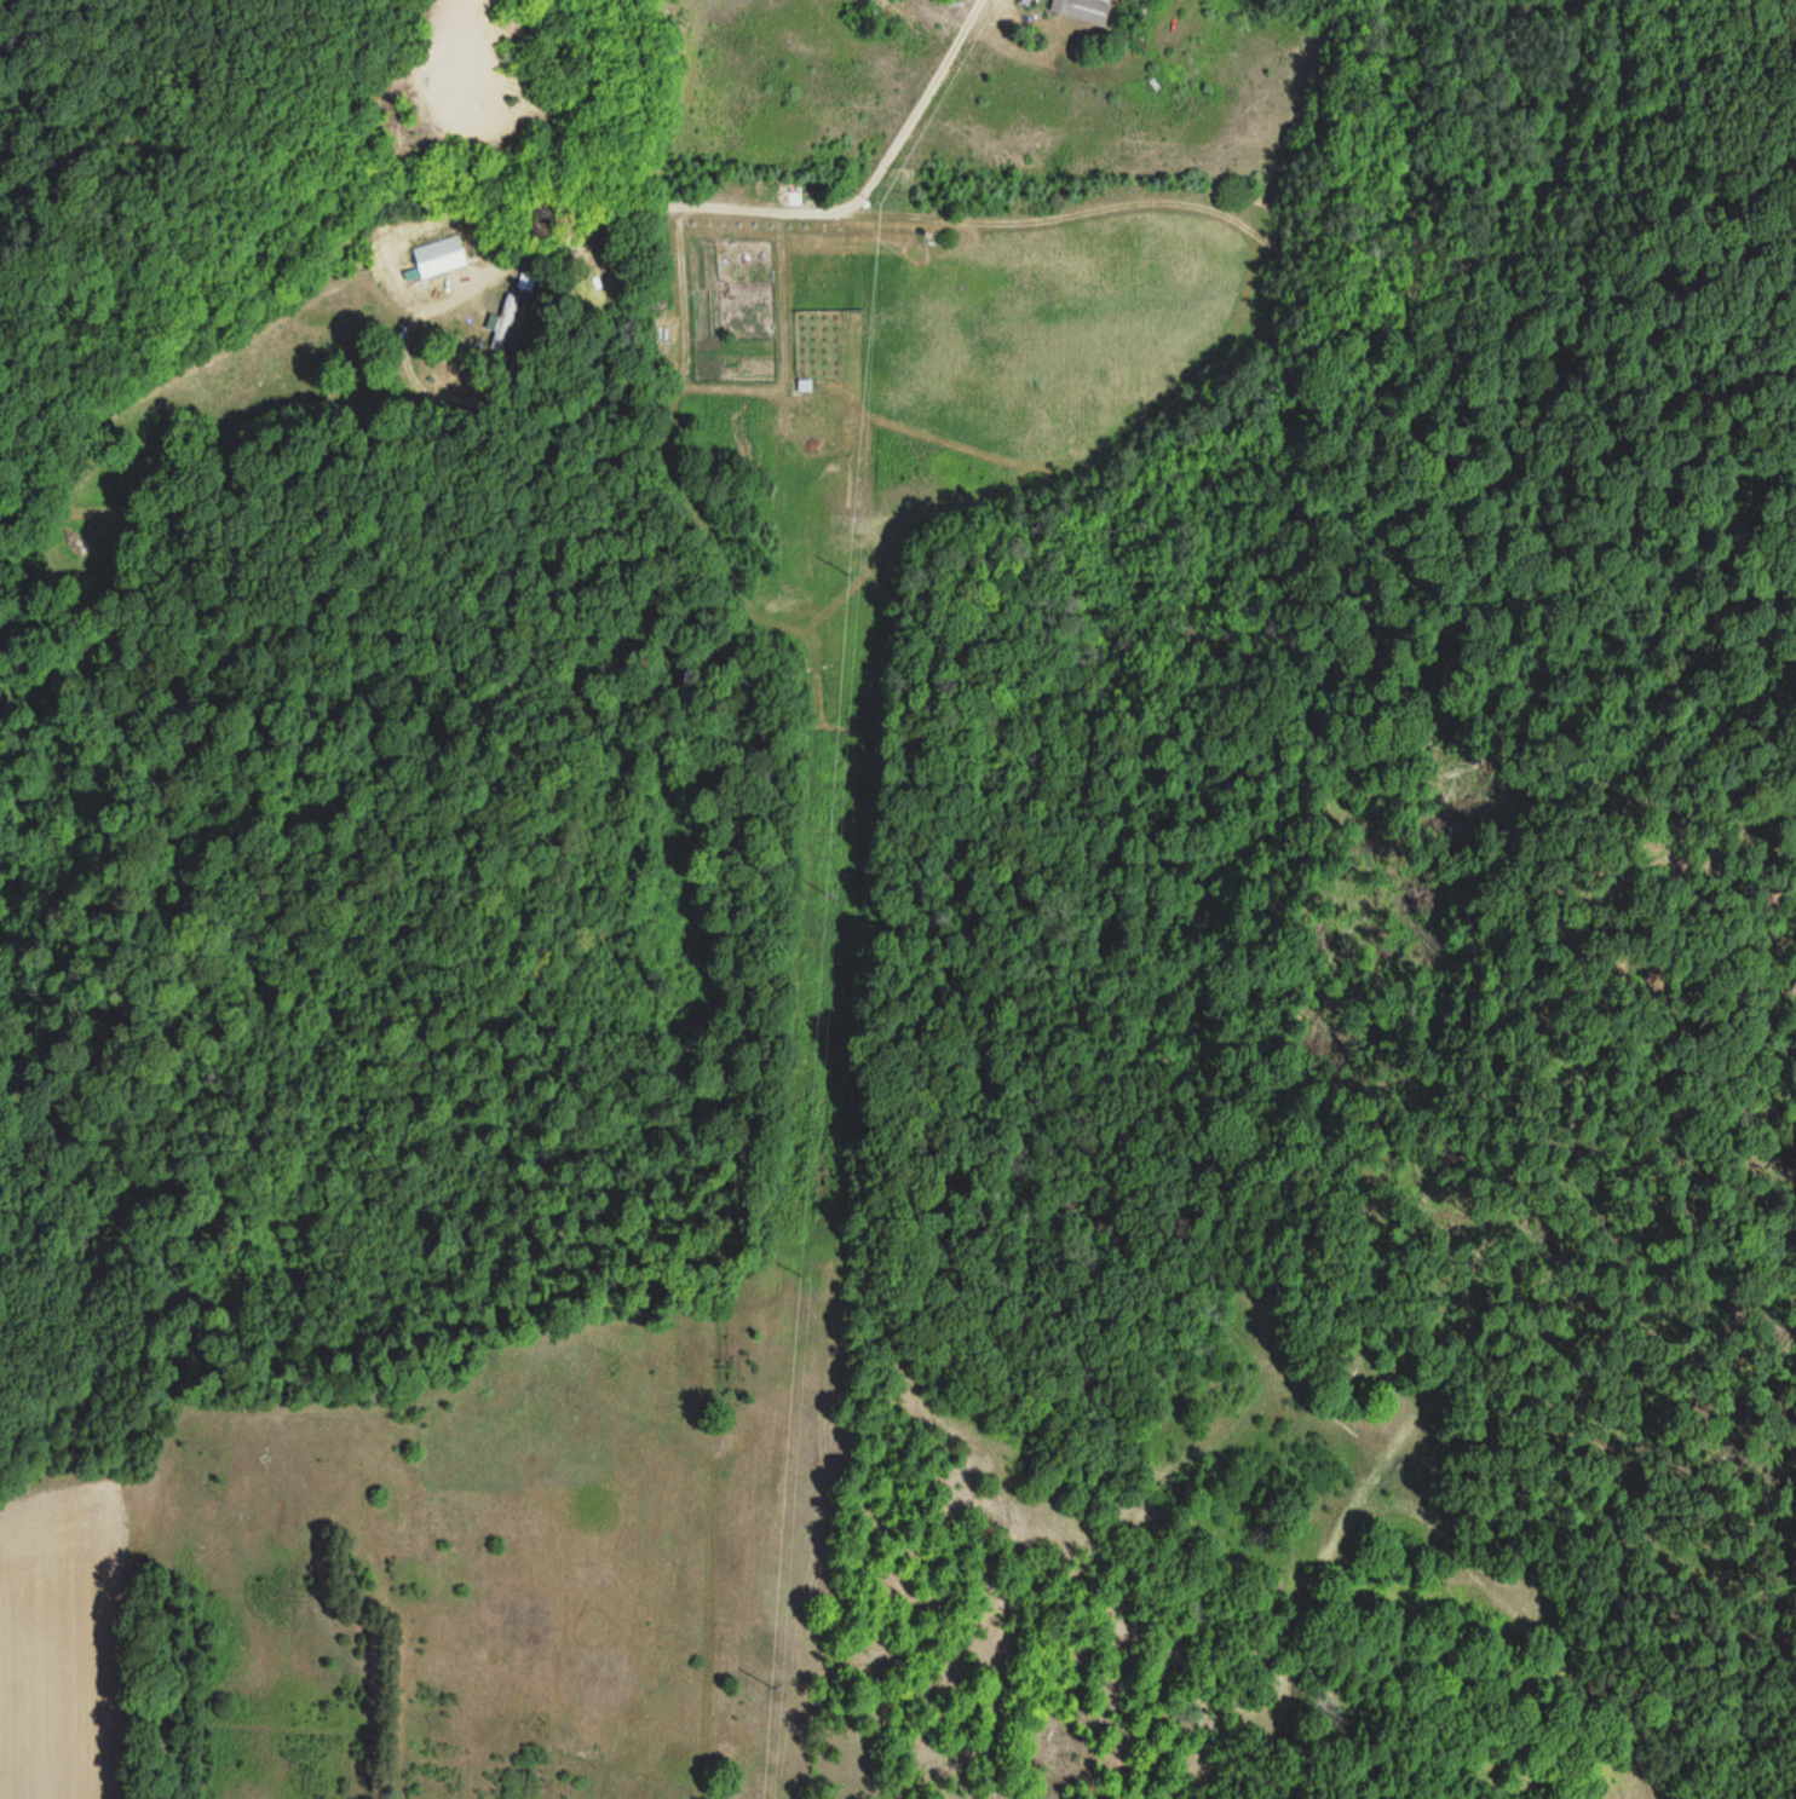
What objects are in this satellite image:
building: (1080, 11)

